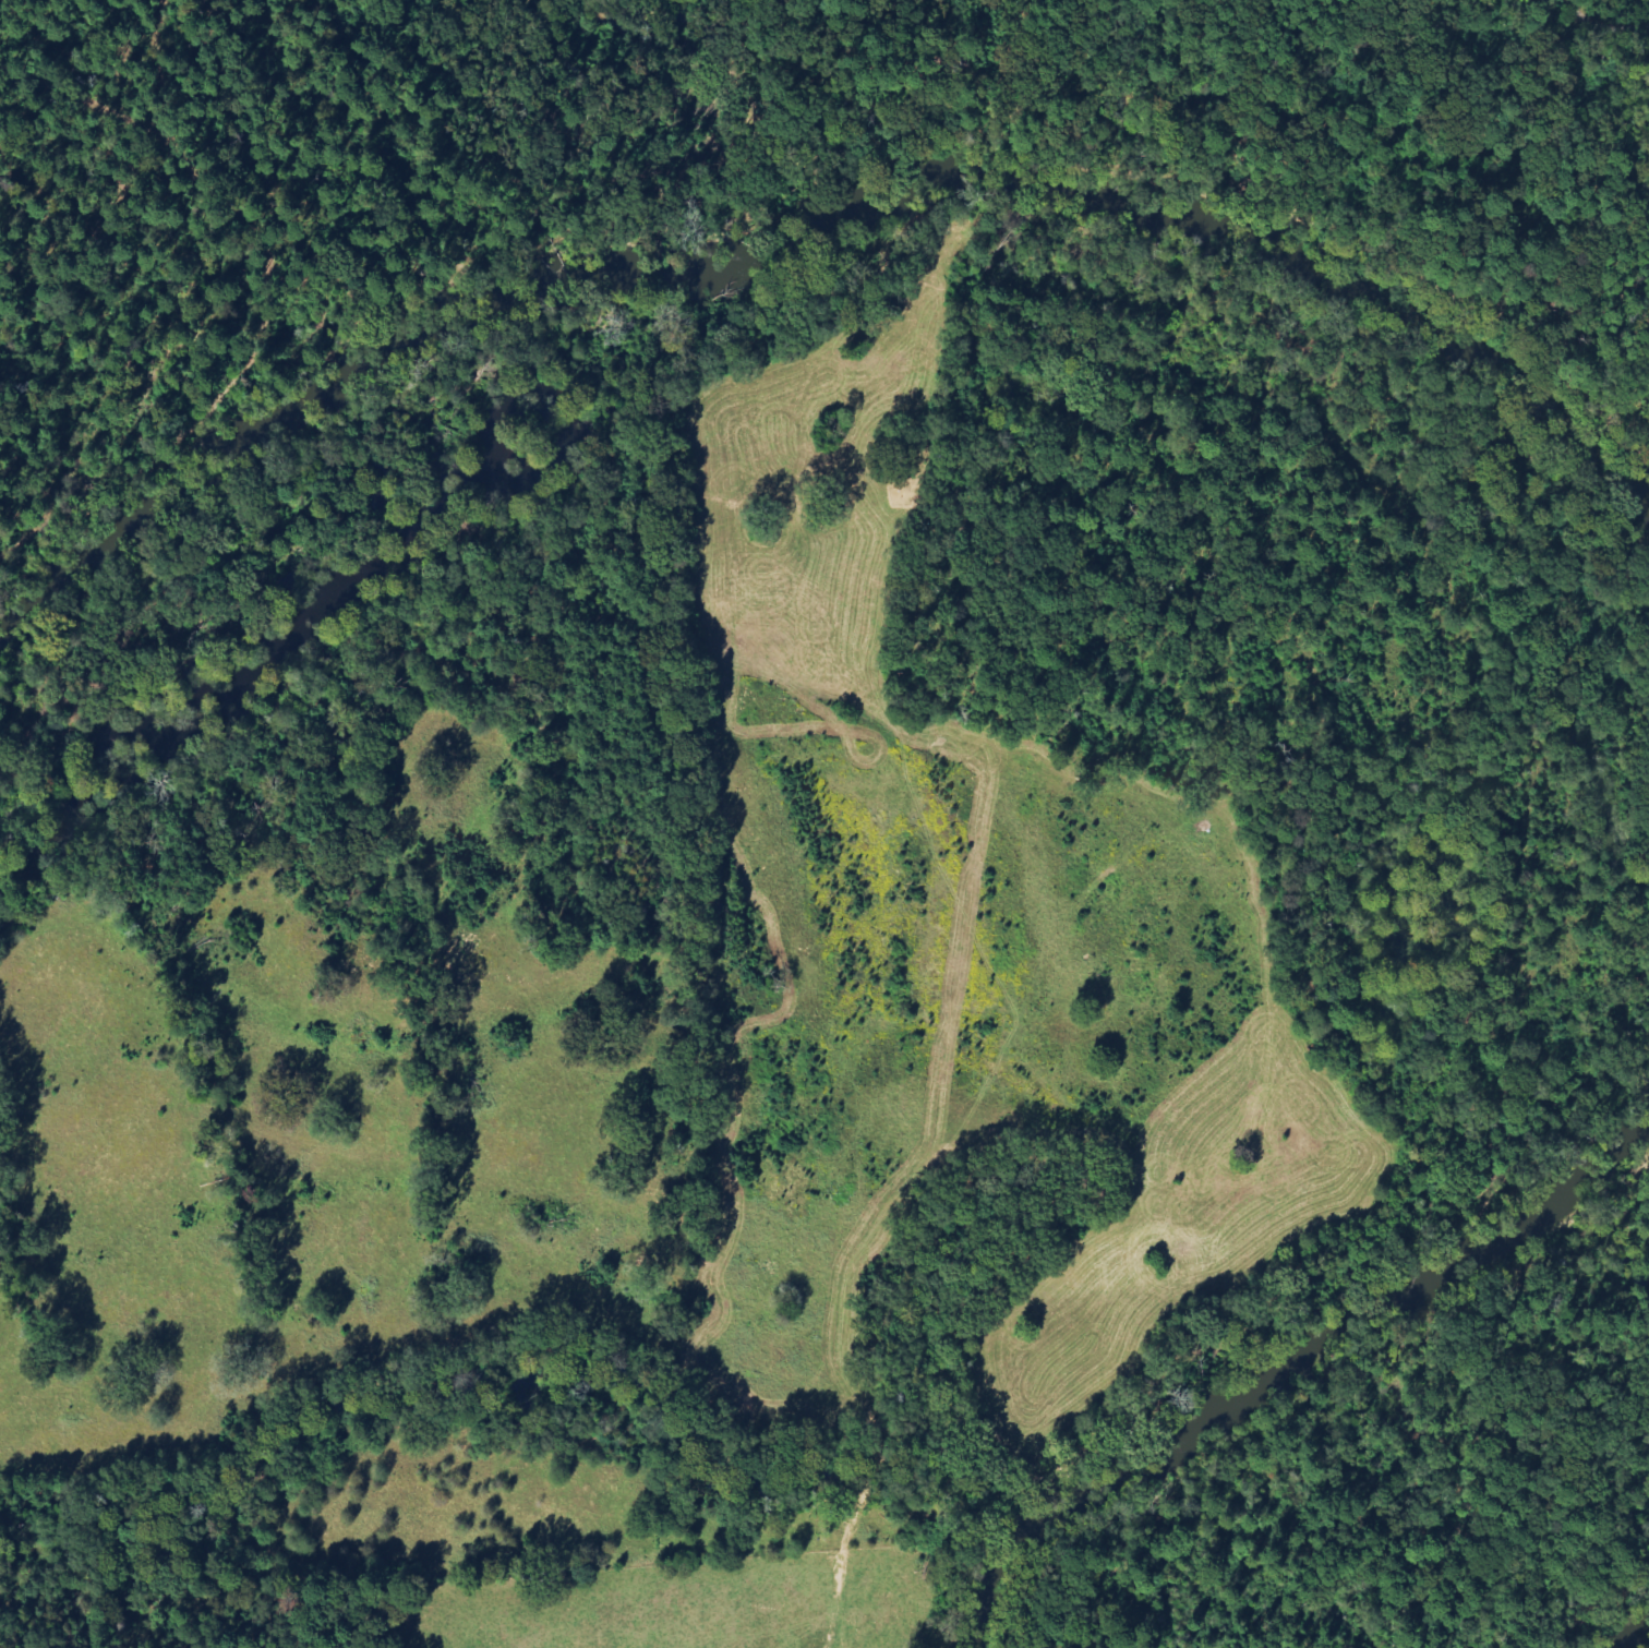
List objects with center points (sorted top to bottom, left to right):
road: (1579, 14)
road: (1614, 28)
river: (816, 229)
river: (1286, 1363)
river: (1640, 1640)

